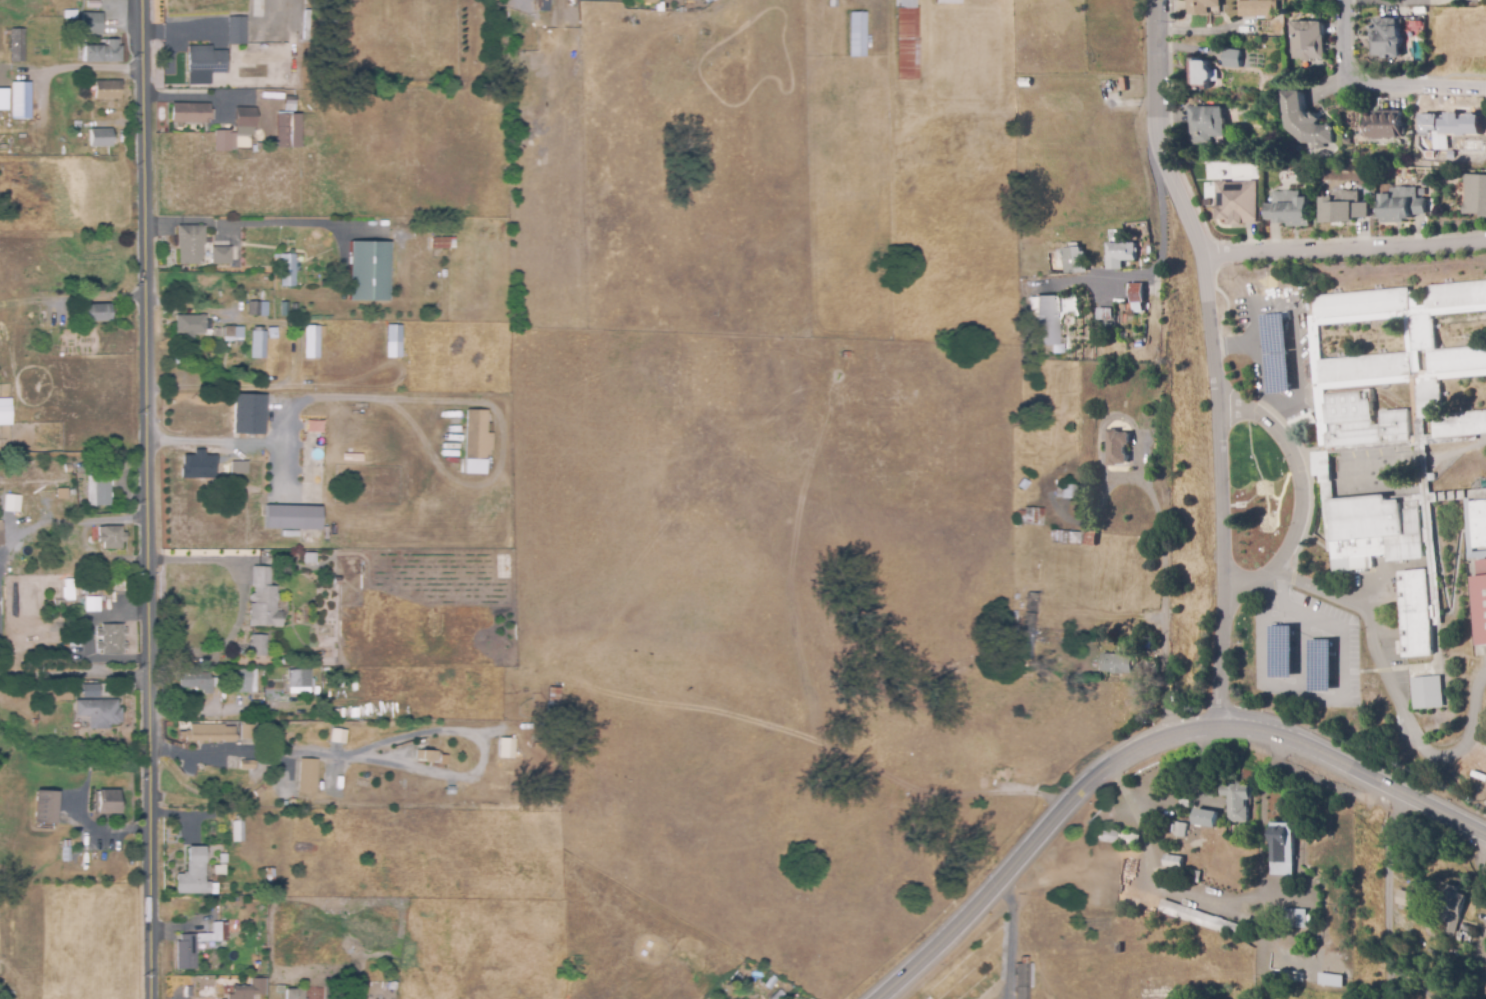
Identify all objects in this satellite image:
building: (709, 0)
road: (1388, 0)
building: (1471, 0)
building: (947, 1)
building: (832, 3)
building: (93, 4)
building: (543, 5)
building: (1202, 6)
building: (1259, 9)
building: (44, 22)
building: (91, 24)
building: (236, 31)
building: (857, 34)
building: (1386, 39)
building: (906, 40)
building: (1309, 41)
building: (15, 44)
building: (102, 53)
building: (1232, 57)
building: (204, 64)
building: (1202, 74)
building: (1026, 82)
road: (1377, 84)
building: (107, 90)
building: (3, 99)
building: (20, 100)
building: (290, 104)
building: (190, 113)
building: (246, 117)
building: (1305, 123)
building: (1208, 124)
building: (1385, 125)
building: (1449, 126)
building: (288, 131)
building: (100, 138)
building: (308, 138)
building: (224, 141)
building: (1475, 195)
building: (1236, 202)
building: (1400, 204)
building: (1342, 207)
building: (1287, 209)
road: (249, 223)
building: (438, 243)
road: (1344, 246)
building: (202, 249)
building: (1121, 254)
building: (1072, 259)
building: (245, 264)
road: (1160, 265)
building: (286, 269)
building: (368, 272)
building: (1138, 293)
building: (258, 309)
building: (284, 309)
building: (95, 313)
road: (230, 314)
building: (1105, 314)
building: (1047, 321)
building: (190, 325)
building: (233, 332)
building: (272, 333)
building: (313, 341)
building: (394, 341)
building: (238, 343)
building: (258, 343)
road: (1234, 344)
road: (1212, 356)
road: (1295, 364)
building: (172, 399)
road: (422, 401)
building: (4, 411)
building: (249, 415)
building: (476, 442)
building: (1398, 444)
building: (1117, 448)
building: (198, 467)
building: (239, 468)
building: (67, 469)
building: (98, 490)
building: (61, 492)
building: (1066, 492)
road: (1298, 498)
road: (146, 499)
building: (11, 503)
building: (26, 504)
building: (214, 510)
building: (14, 512)
building: (291, 517)
building: (1030, 517)
road: (61, 525)
building: (111, 537)
building: (1065, 537)
building: (1, 538)
building: (1090, 539)
building: (310, 558)
building: (335, 581)
building: (70, 589)
building: (263, 600)
road: (240, 602)
road: (1164, 602)
building: (59, 603)
building: (92, 606)
building: (1030, 623)
building: (111, 639)
building: (257, 646)
building: (280, 662)
building: (1116, 664)
road: (74, 672)
building: (360, 678)
building: (299, 679)
building: (191, 682)
building: (245, 685)
road: (1395, 690)
building: (90, 691)
building: (1426, 692)
building: (58, 693)
road: (1317, 697)
building: (552, 701)
road: (233, 711)
building: (99, 713)
building: (339, 714)
building: (208, 734)
building: (337, 735)
building: (65, 745)
road: (1141, 745)
building: (425, 755)
building: (506, 762)
building: (246, 765)
road: (402, 765)
building: (310, 772)
building: (1238, 801)
building: (109, 802)
building: (1184, 802)
building: (45, 808)
building: (1205, 818)
road: (103, 829)
building: (238, 829)
building: (1180, 829)
building: (1115, 838)
building: (1283, 849)
building: (64, 852)
road: (1479, 856)
building: (223, 859)
building: (1173, 861)
building: (193, 874)
building: (1191, 876)
building: (270, 877)
road: (1382, 889)
building: (1405, 899)
road: (1224, 902)
building: (339, 904)
building: (261, 908)
building: (1450, 908)
building: (236, 917)
building: (1301, 918)
building: (1204, 920)
building: (261, 922)
road: (1013, 937)
building: (1119, 948)
building: (1454, 951)
building: (186, 956)
building: (736, 978)
building: (1024, 979)
building: (772, 981)
building: (187, 982)
building: (1482, 988)
building: (249, 989)
building: (280, 989)
building: (294, 993)

